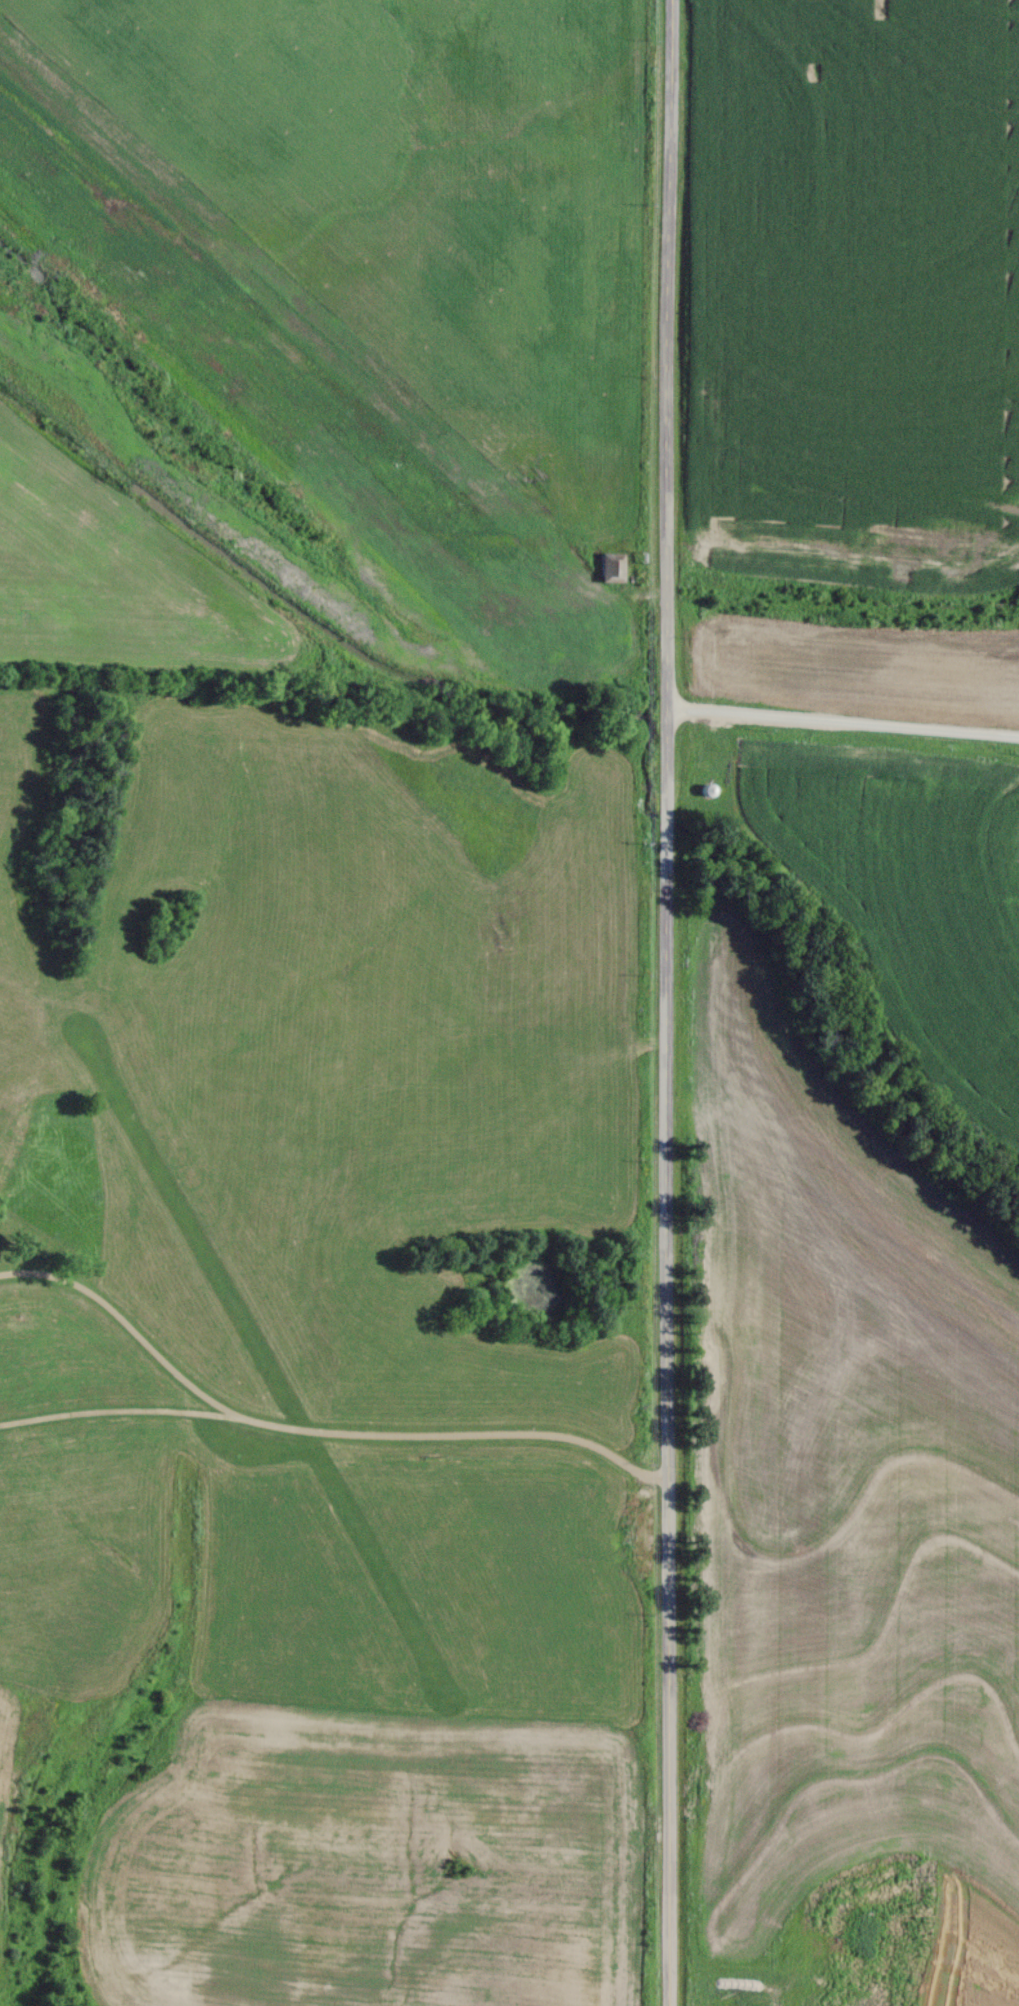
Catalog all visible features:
building: (611, 567)
road: (843, 725)
building: (705, 789)
road: (672, 1002)
road: (114, 1413)
road: (315, 1436)
building: (865, 1933)

